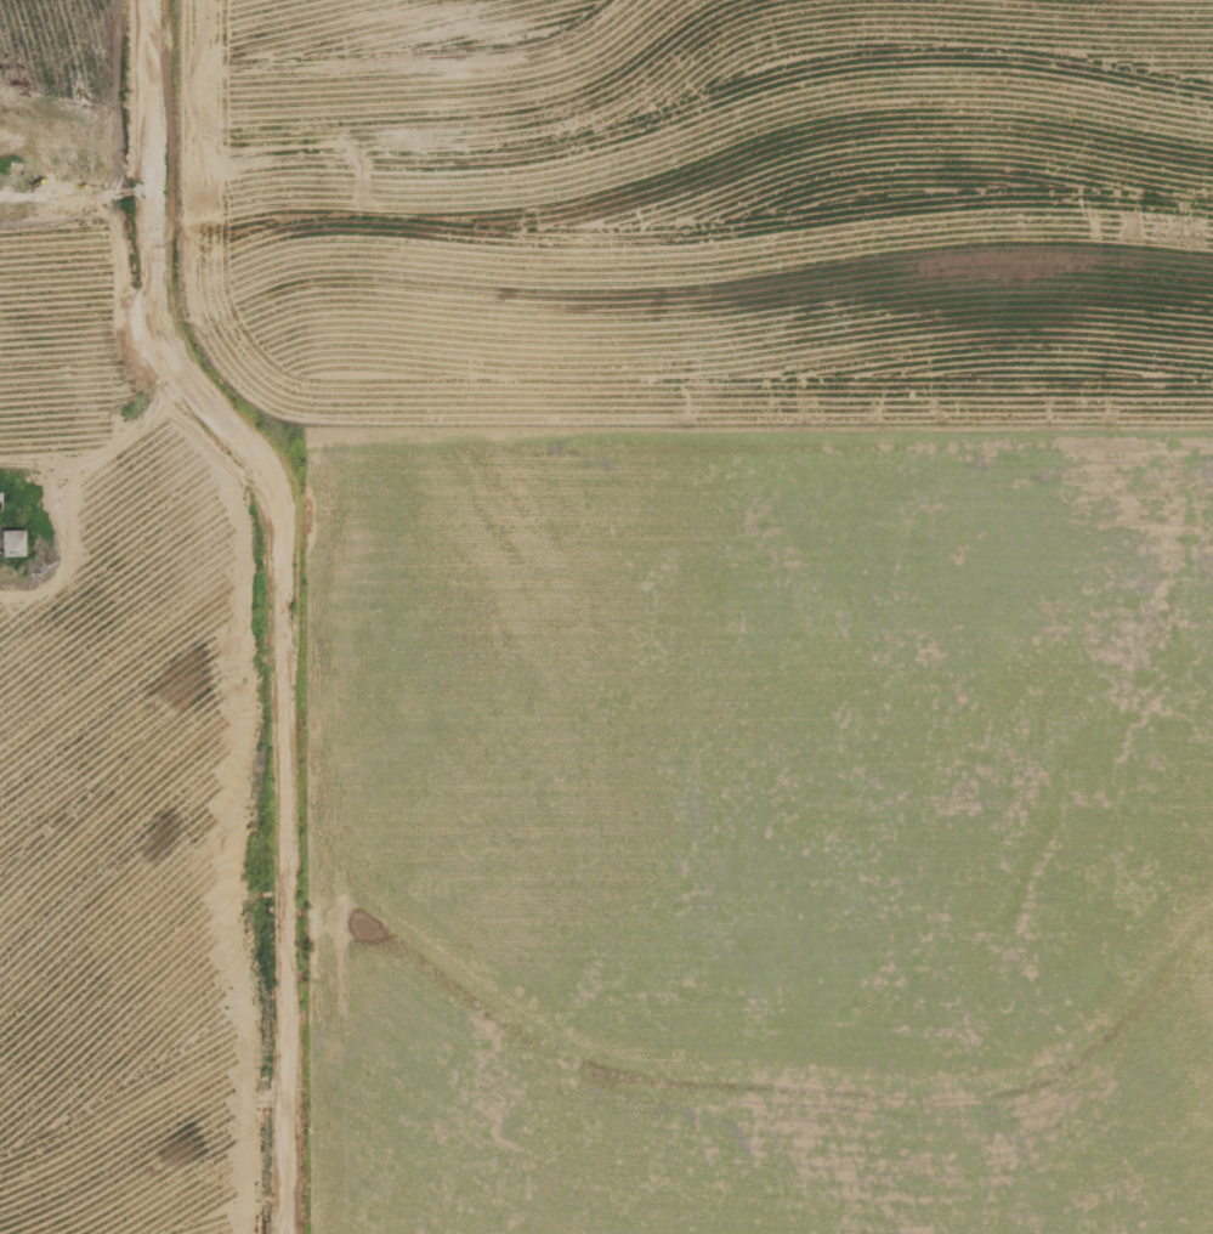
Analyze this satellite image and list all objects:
building: (1, 503)
building: (15, 544)
road: (290, 598)

